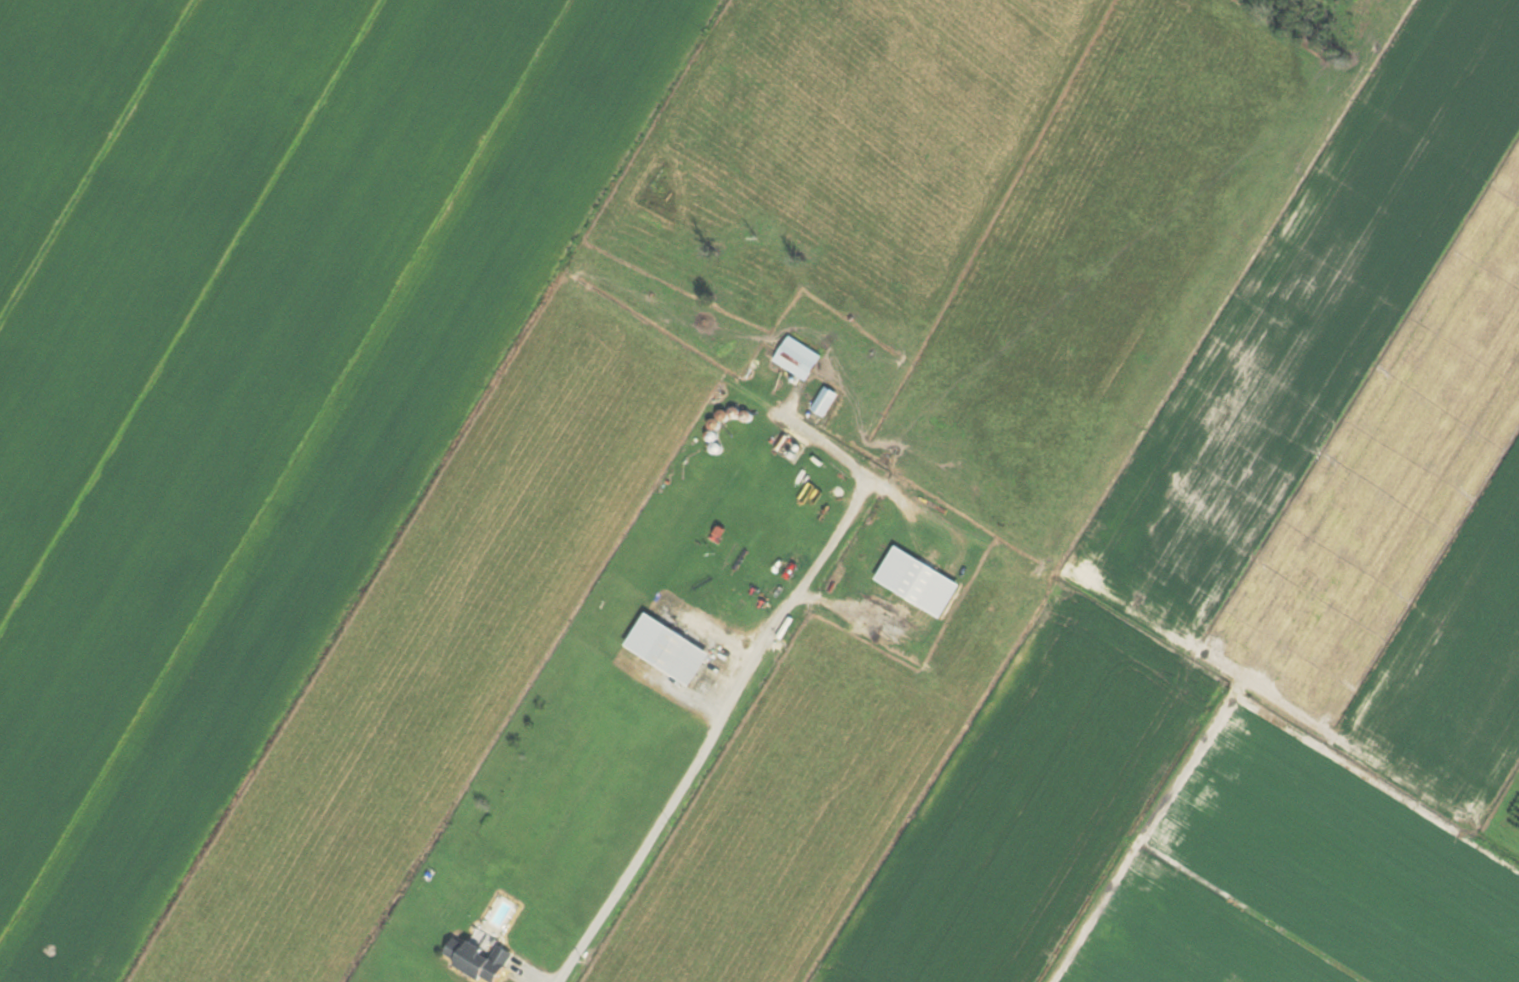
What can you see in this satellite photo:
building: (798, 358)
building: (669, 650)
road: (698, 760)
building: (480, 960)

